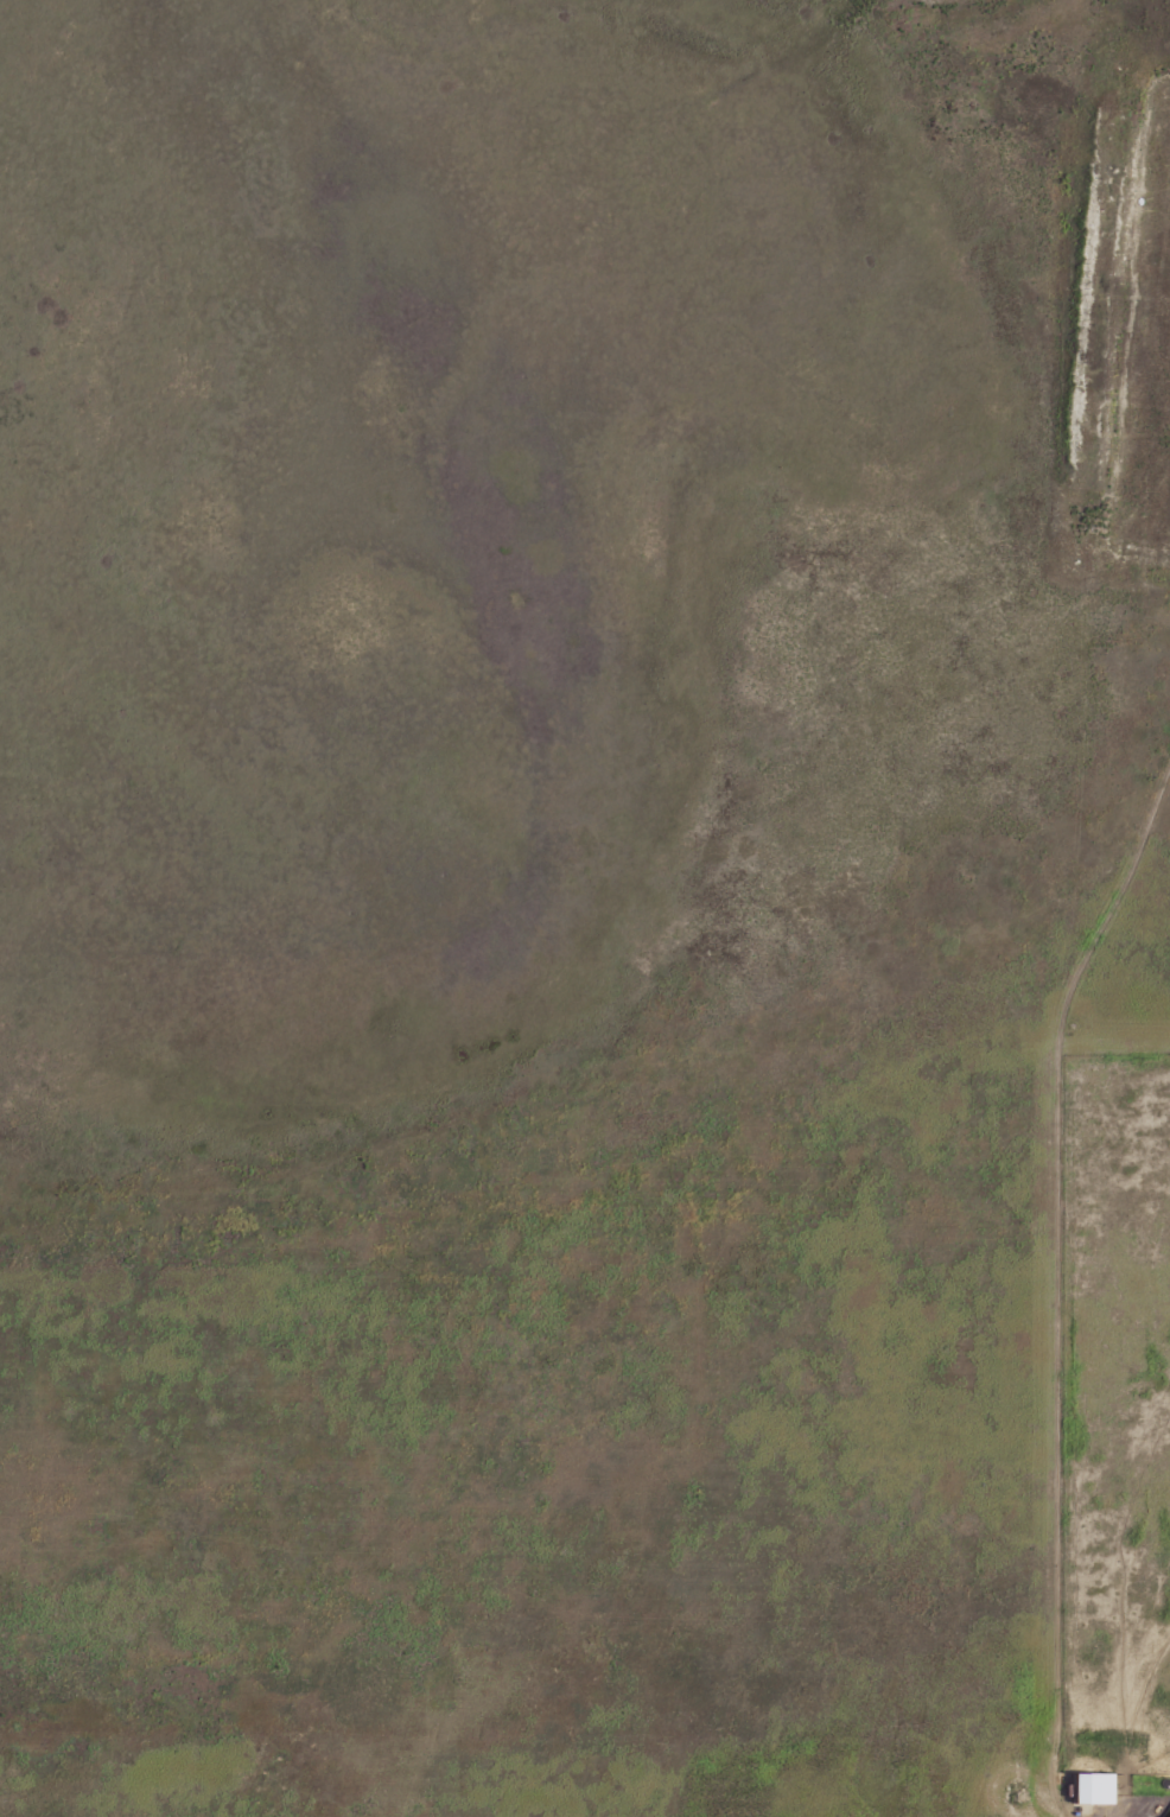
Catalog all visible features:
building: (1086, 1786)

